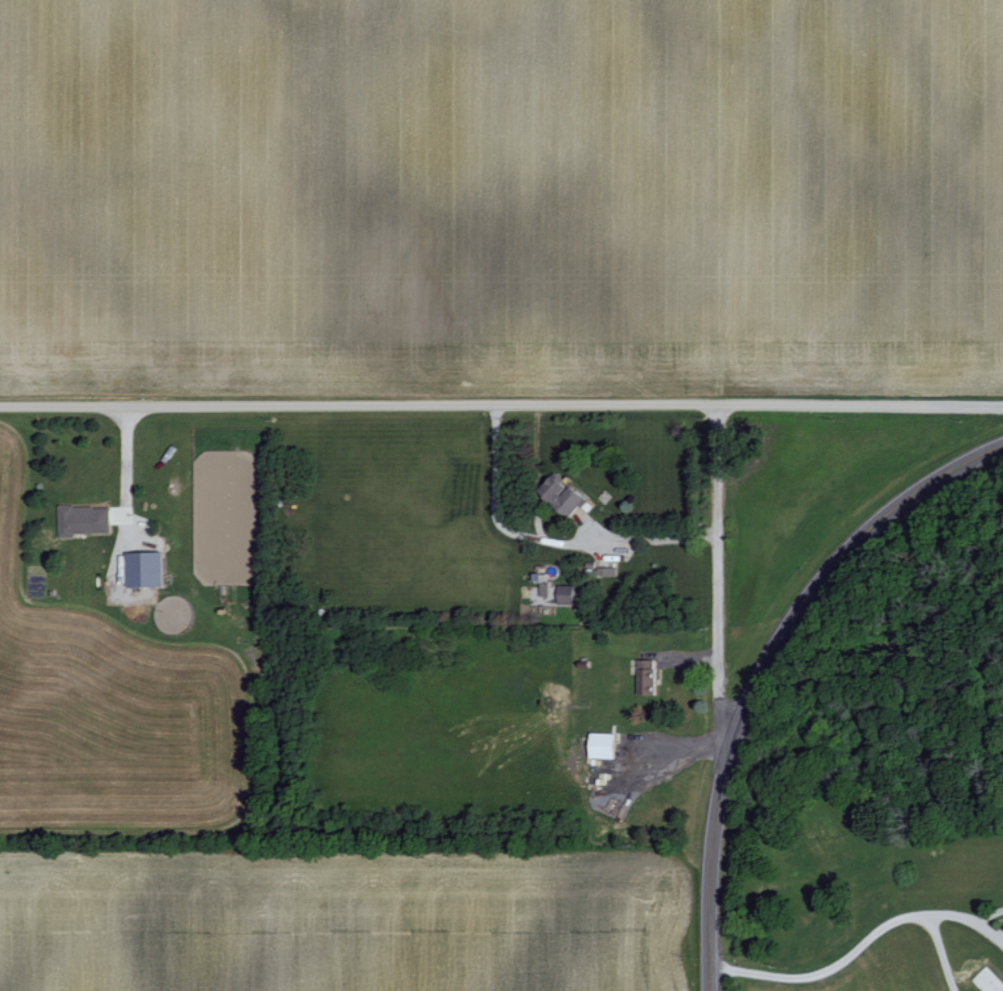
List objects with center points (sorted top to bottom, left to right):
road: (501, 402)
road: (535, 470)
road: (125, 471)
building: (562, 494)
building: (84, 519)
road: (543, 539)
building: (605, 571)
building: (543, 588)
road: (716, 591)
building: (565, 594)
road: (765, 670)
building: (646, 676)
building: (602, 745)
road: (968, 919)
road: (940, 953)
road: (825, 969)

